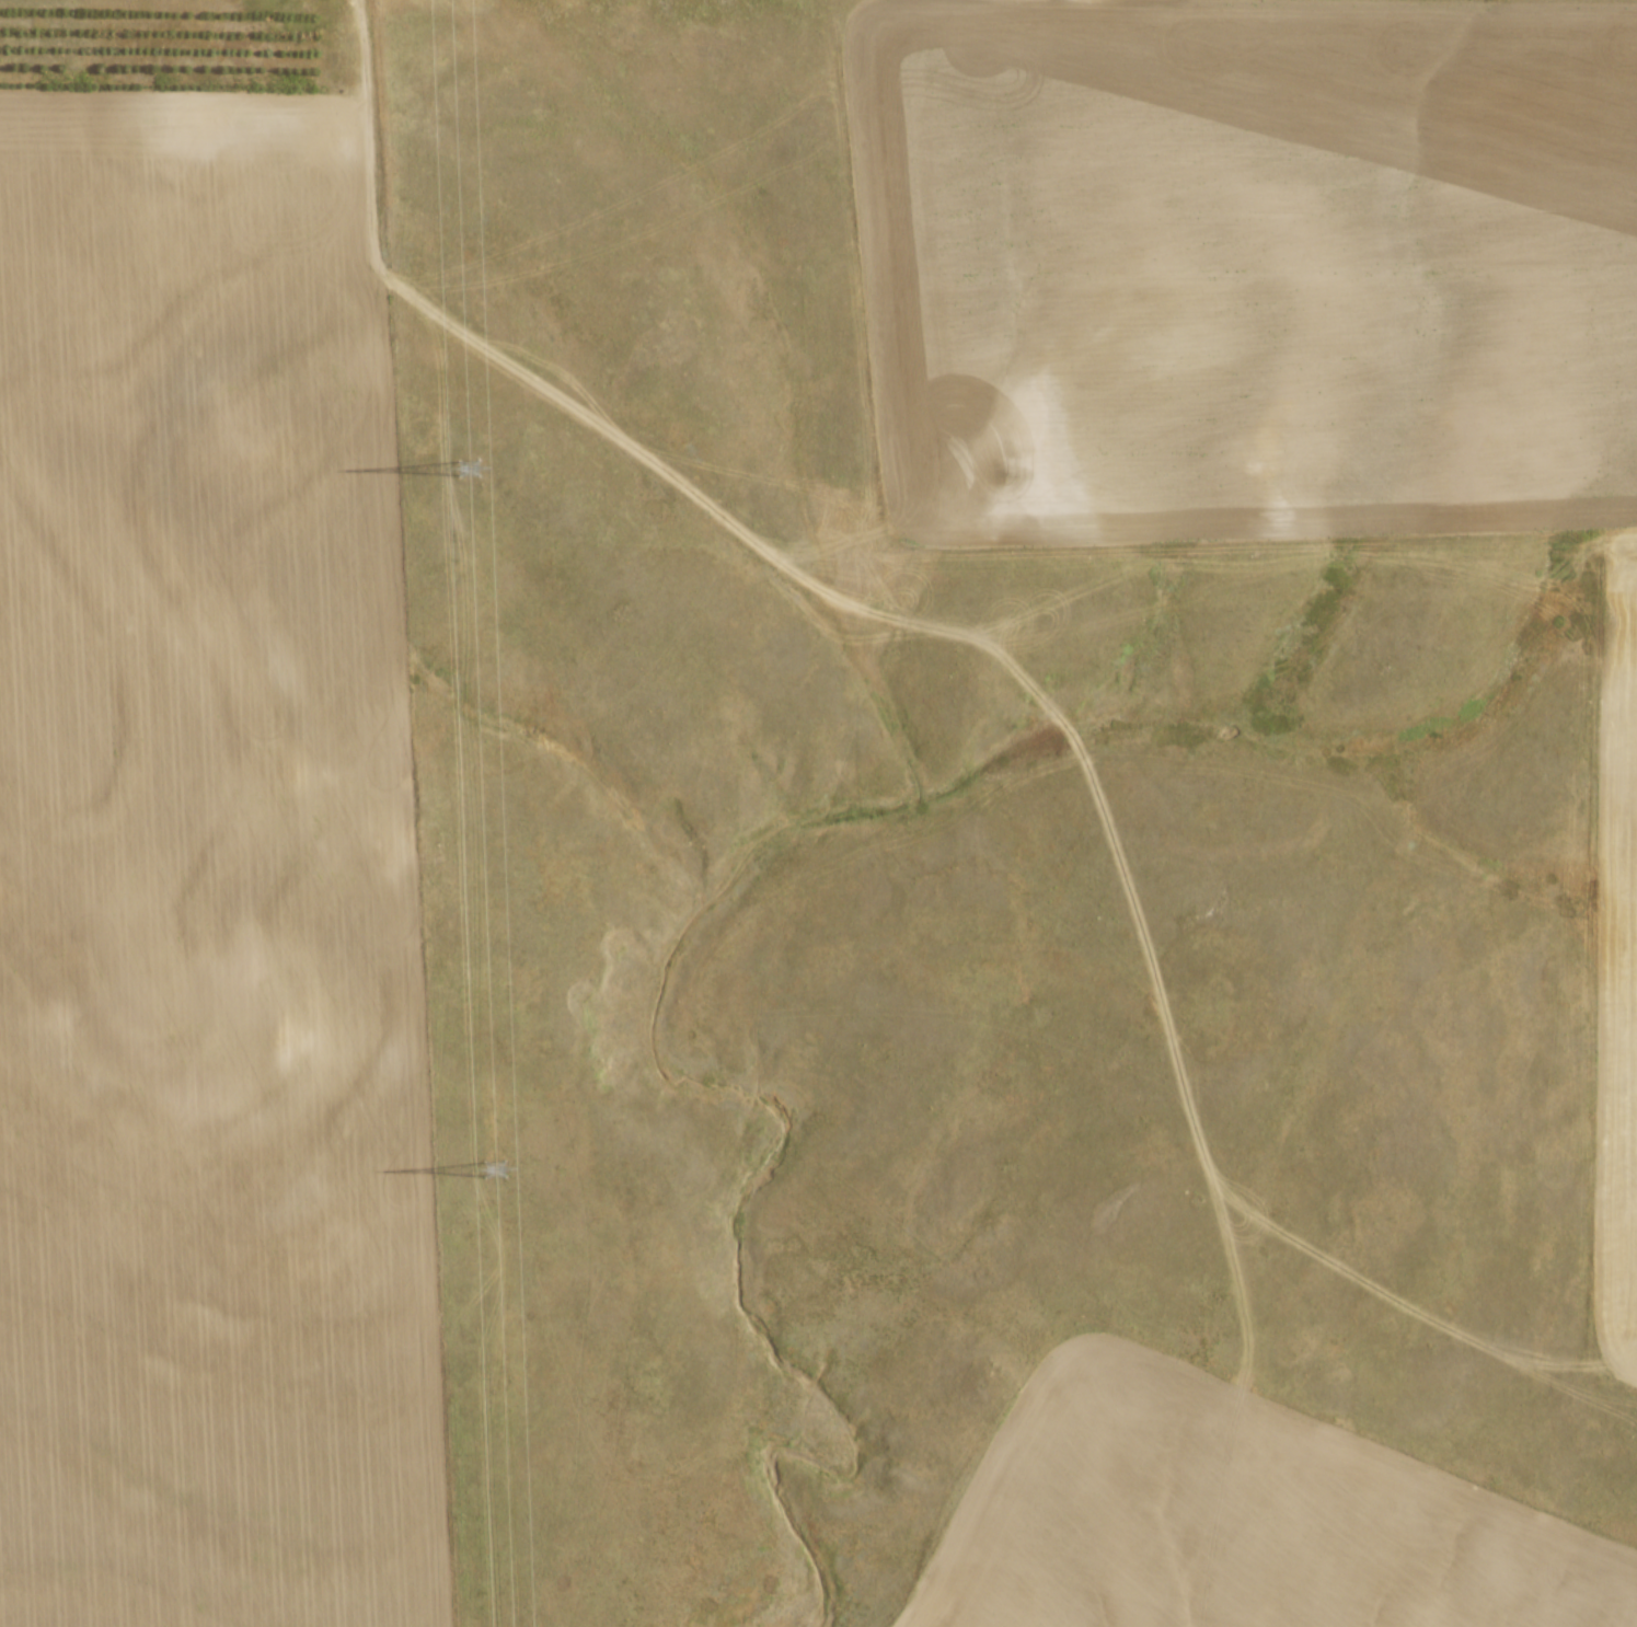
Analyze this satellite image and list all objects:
power tower: (466, 466)
power tower: (494, 1168)

